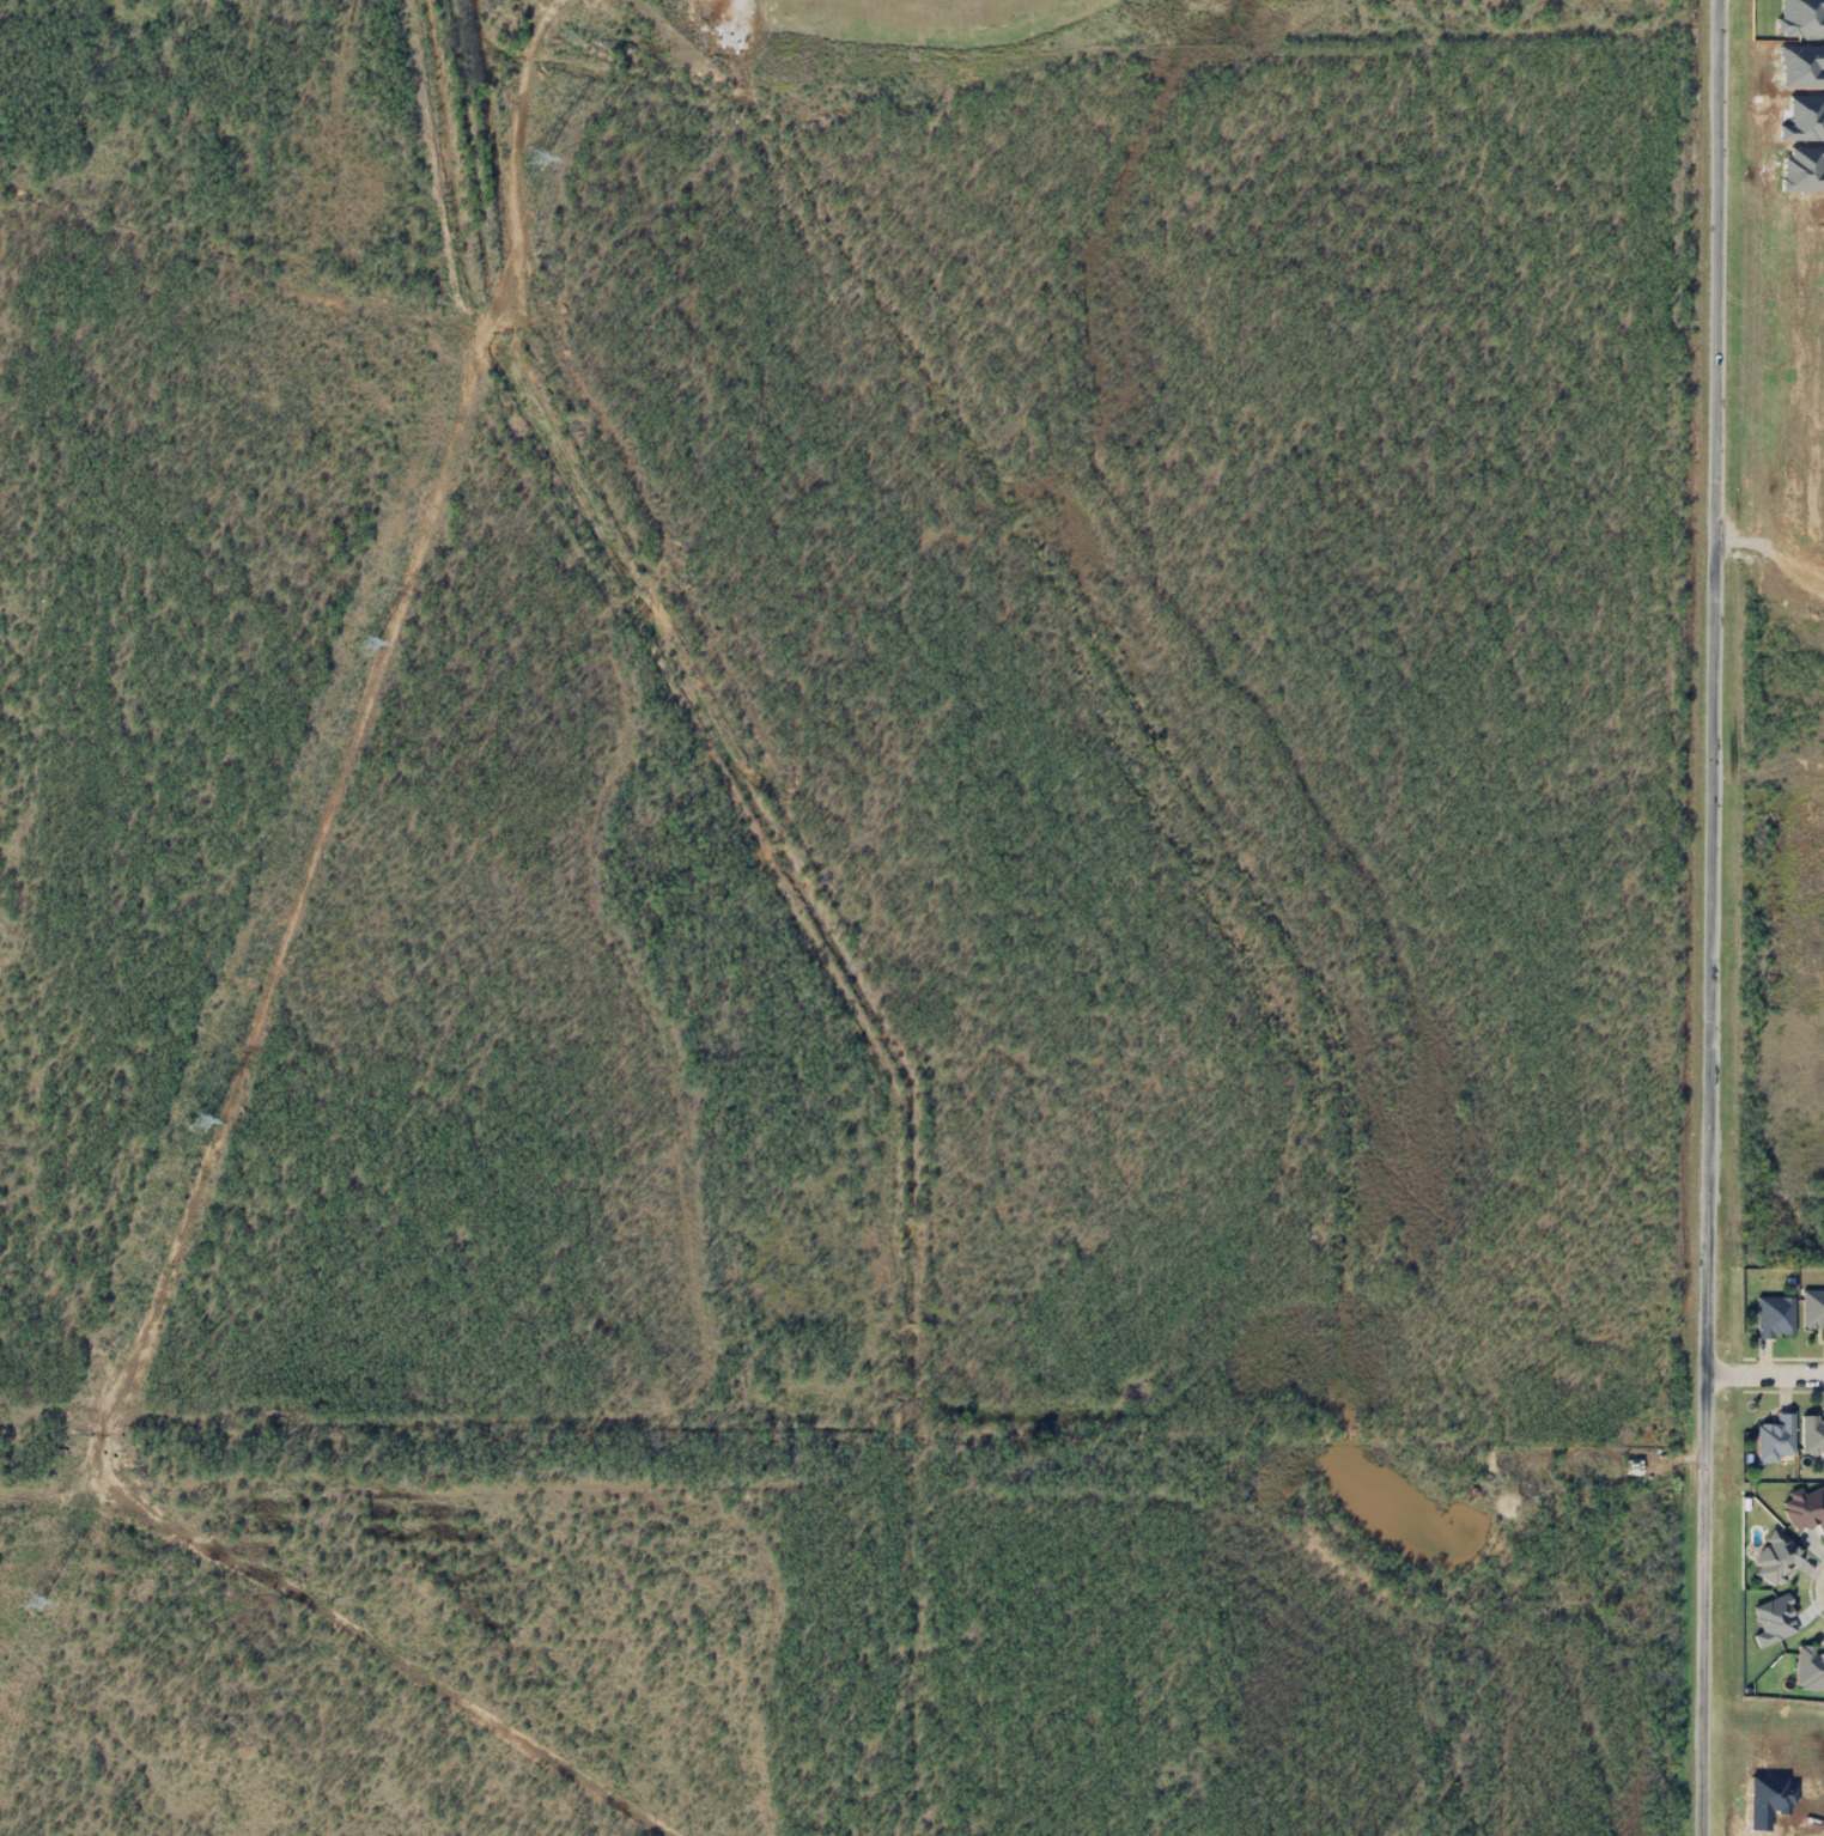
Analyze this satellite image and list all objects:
road: (1706, 917)
building: (1813, 1309)
building: (1773, 1319)
road: (1763, 1369)
building: (1812, 1431)
building: (1775, 1439)
building: (1806, 1508)
building: (1776, 1558)
building: (1810, 1666)

